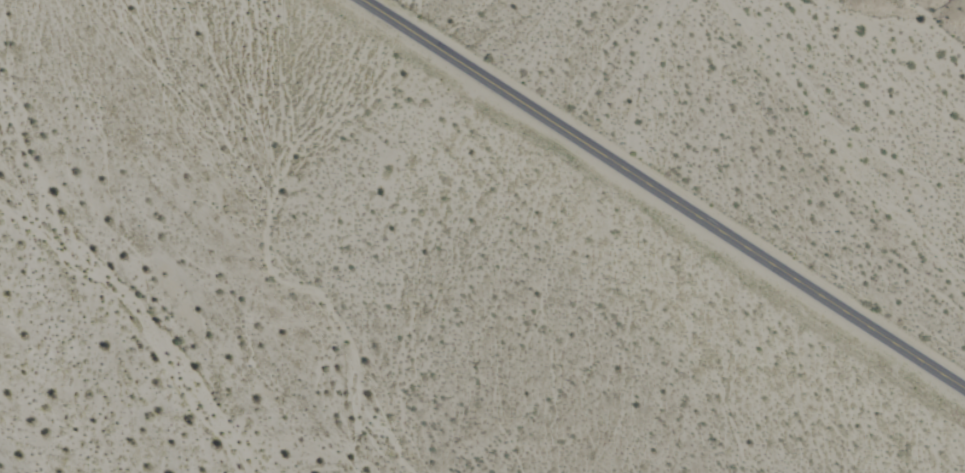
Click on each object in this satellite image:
road: (646, 202)

